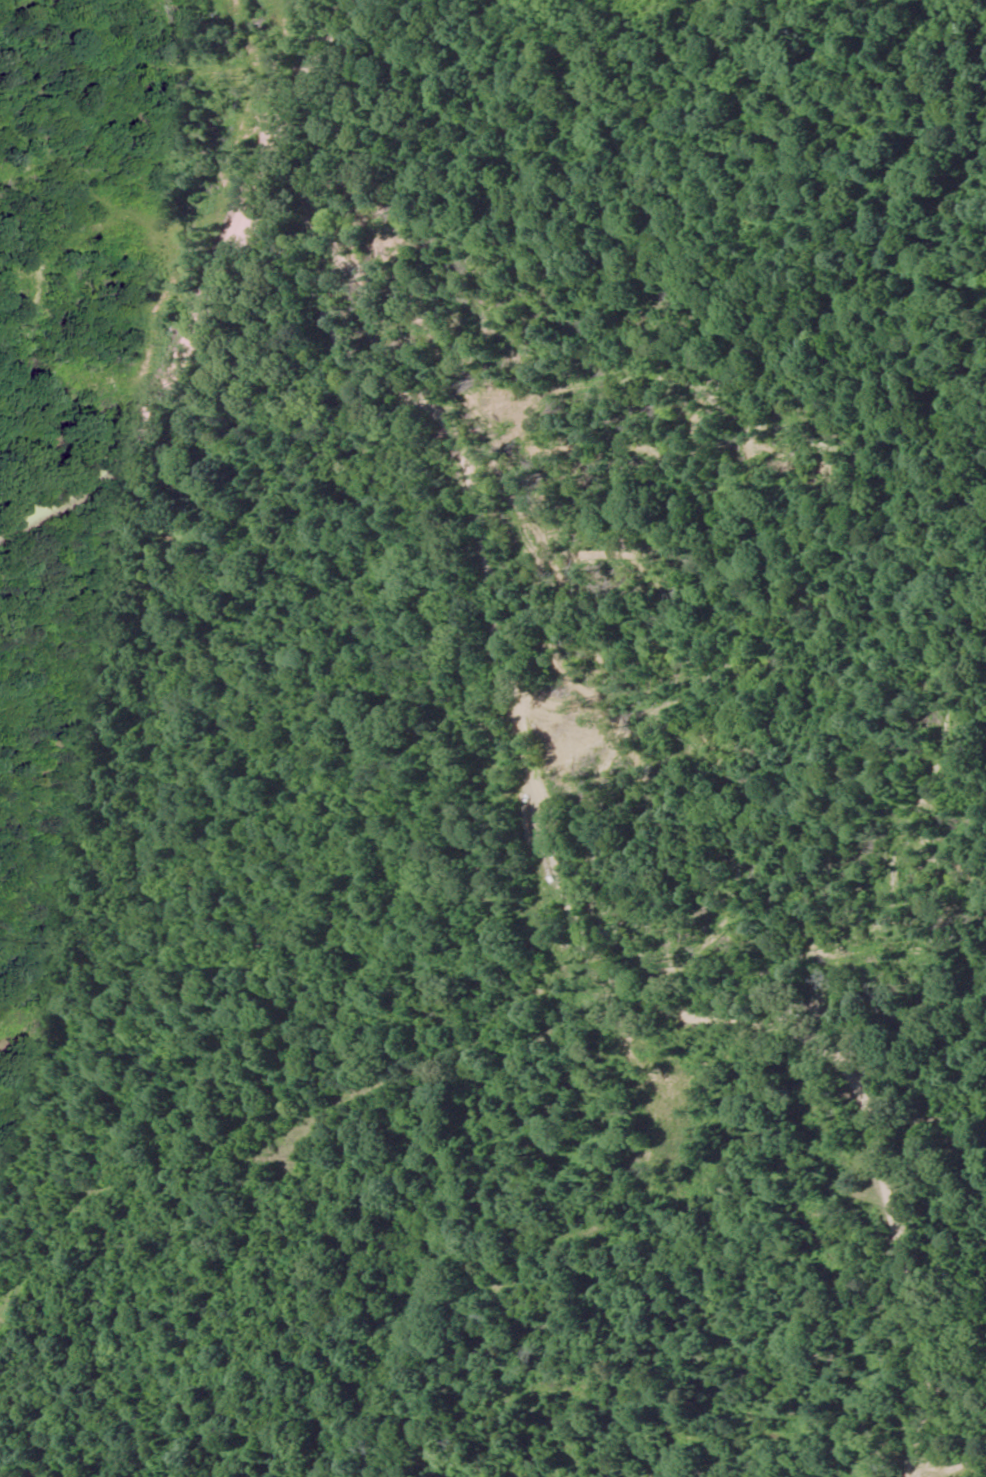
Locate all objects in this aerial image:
road: (311, 128)
road: (158, 410)
road: (559, 910)

